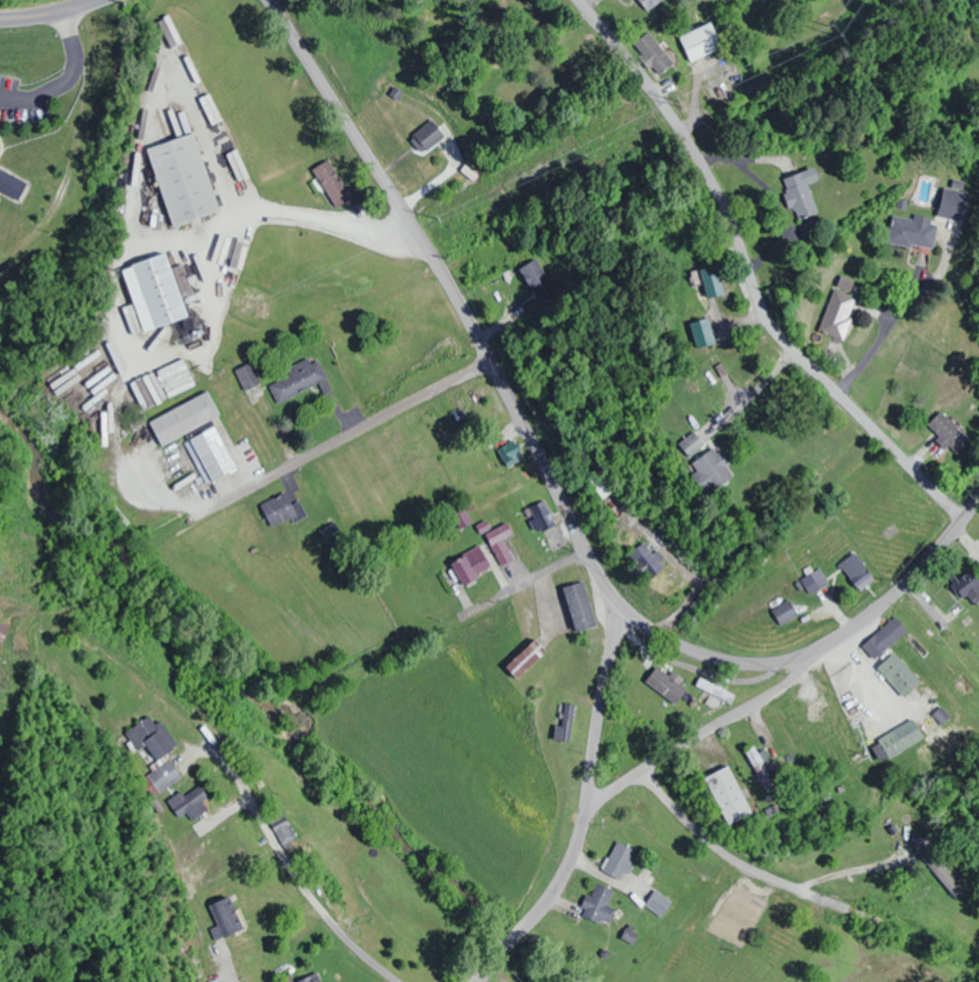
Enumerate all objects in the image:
building: (648, 3)
road: (44, 10)
building: (660, 39)
building: (700, 42)
building: (427, 136)
building: (182, 179)
building: (331, 184)
building: (12, 185)
building: (800, 195)
building: (913, 231)
building: (535, 276)
road: (746, 276)
building: (709, 281)
building: (154, 293)
building: (837, 313)
building: (174, 378)
building: (297, 381)
building: (476, 396)
building: (183, 418)
building: (948, 432)
road: (344, 435)
building: (691, 444)
building: (510, 454)
building: (209, 455)
building: (713, 469)
building: (601, 487)
road: (552, 493)
building: (282, 509)
building: (542, 515)
building: (499, 543)
building: (643, 557)
building: (469, 566)
building: (856, 571)
building: (814, 581)
road: (525, 582)
building: (968, 587)
road: (925, 603)
building: (579, 606)
building: (784, 612)
building: (2, 631)
building: (884, 638)
building: (525, 658)
building: (898, 675)
building: (665, 685)
building: (714, 690)
building: (564, 722)
road: (703, 731)
building: (900, 738)
building: (151, 741)
building: (942, 757)
building: (759, 767)
building: (727, 796)
road: (582, 810)
building: (281, 827)
road: (300, 850)
road: (729, 858)
building: (618, 862)
building: (596, 902)
building: (658, 903)
building: (311, 979)

